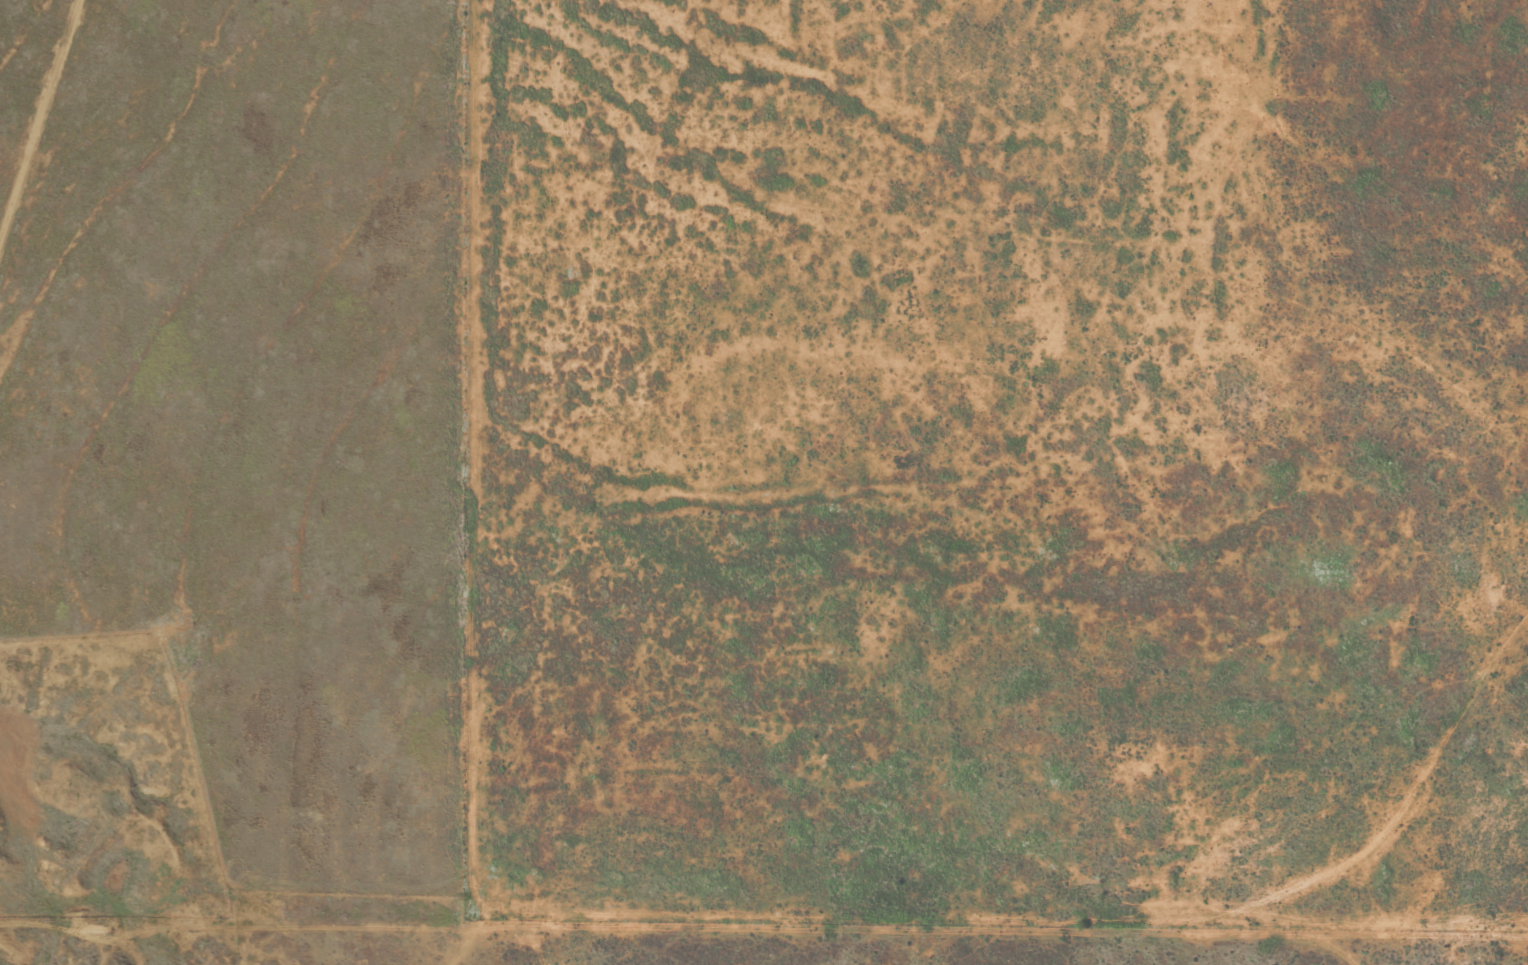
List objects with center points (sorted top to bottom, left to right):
road: (478, 486)
road: (887, 912)

